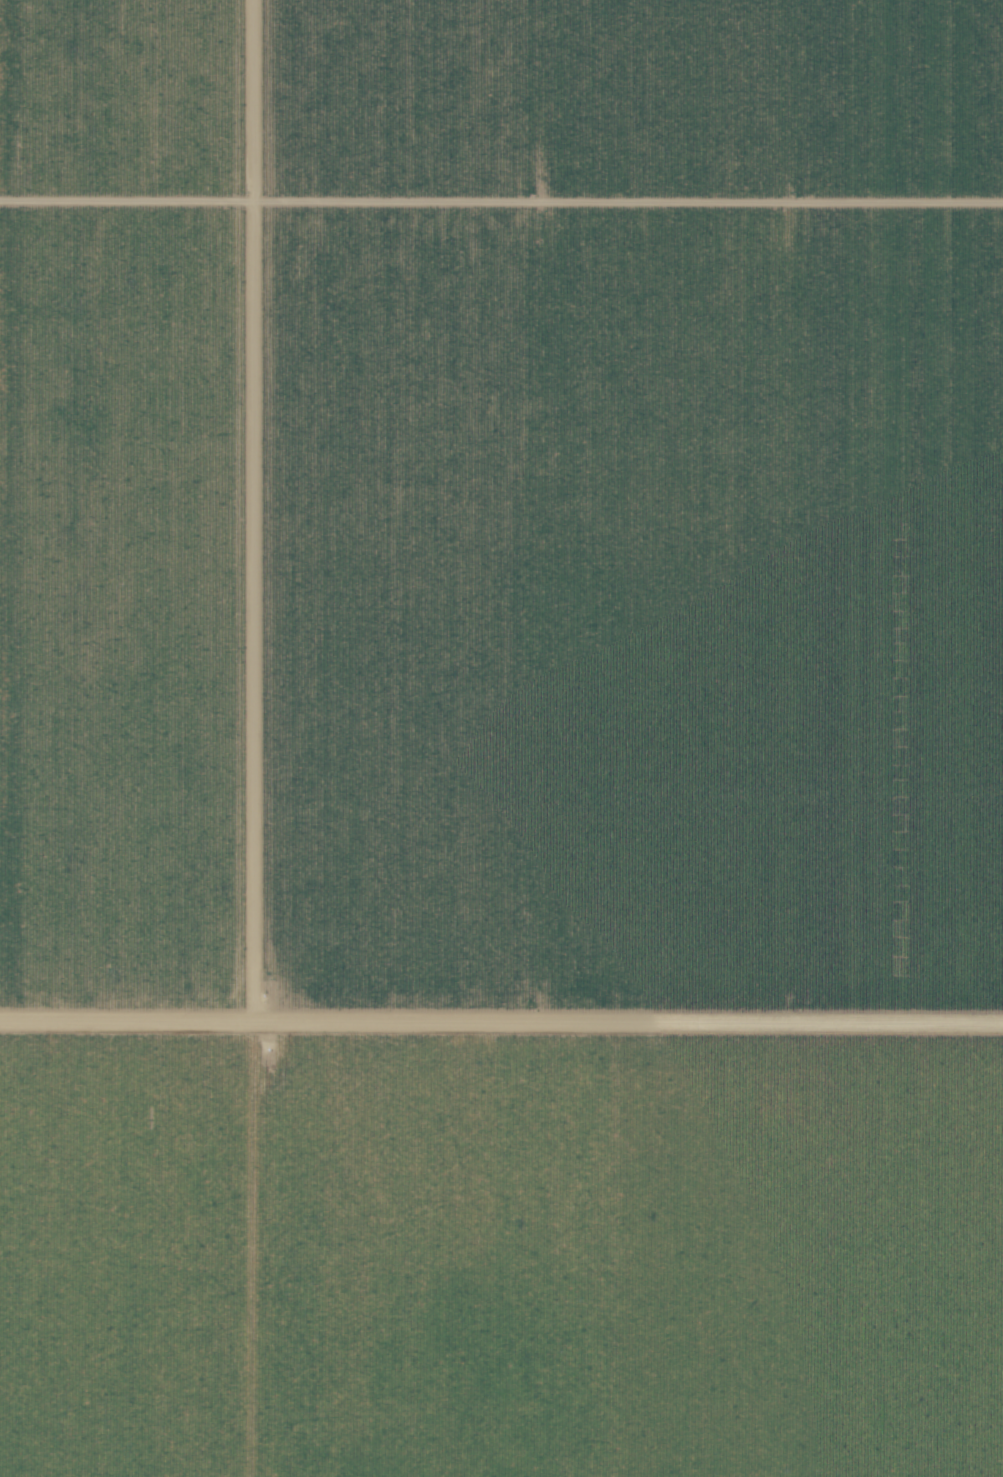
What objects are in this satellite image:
crop: (501, 507)
crop: (498, 1023)
road: (501, 1032)
crop: (111, 1253)
crop: (612, 1254)

